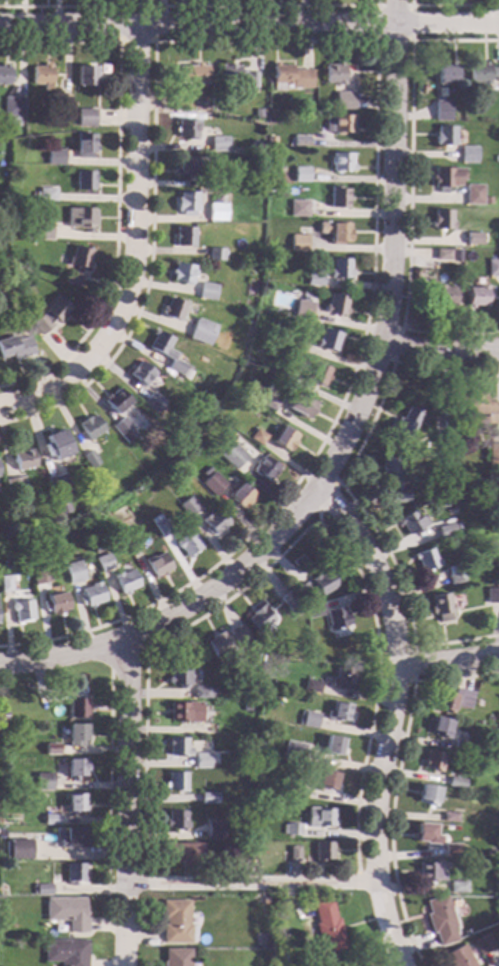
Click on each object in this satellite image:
road: (451, 4)
road: (189, 5)
road: (249, 23)
road: (409, 40)
road: (134, 41)
building: (482, 72)
building: (4, 73)
building: (190, 73)
building: (333, 73)
building: (445, 73)
building: (85, 75)
building: (236, 75)
building: (41, 76)
building: (288, 77)
building: (180, 100)
building: (344, 100)
building: (62, 101)
road: (373, 104)
building: (12, 106)
building: (257, 112)
building: (272, 113)
building: (442, 113)
building: (86, 117)
building: (42, 121)
building: (339, 124)
building: (185, 129)
building: (444, 136)
building: (300, 140)
building: (218, 143)
building: (84, 144)
building: (256, 144)
building: (468, 154)
building: (55, 156)
building: (341, 162)
building: (185, 166)
building: (300, 174)
building: (446, 177)
building: (84, 180)
building: (211, 181)
road: (114, 182)
road: (408, 190)
building: (46, 193)
building: (34, 194)
building: (473, 194)
building: (338, 197)
building: (487, 200)
building: (186, 203)
building: (298, 208)
building: (216, 211)
building: (79, 217)
building: (441, 219)
building: (27, 230)
building: (41, 230)
building: (335, 231)
building: (183, 236)
building: (473, 238)
building: (298, 242)
road: (131, 246)
road: (389, 249)
building: (215, 254)
building: (442, 254)
building: (77, 264)
building: (492, 267)
building: (339, 269)
building: (182, 273)
building: (314, 277)
building: (425, 278)
building: (208, 290)
building: (443, 295)
building: (476, 296)
building: (336, 304)
building: (172, 308)
building: (303, 308)
building: (50, 315)
building: (202, 331)
building: (328, 339)
building: (282, 341)
building: (294, 344)
road: (395, 345)
building: (15, 347)
building: (165, 351)
road: (439, 351)
building: (278, 369)
building: (141, 374)
building: (317, 374)
building: (251, 398)
building: (116, 401)
building: (152, 402)
building: (268, 403)
building: (300, 405)
building: (476, 407)
building: (447, 421)
building: (89, 426)
building: (404, 426)
building: (122, 430)
building: (257, 435)
building: (284, 438)
building: (449, 438)
building: (56, 447)
building: (232, 454)
building: (493, 456)
building: (22, 458)
building: (89, 459)
building: (264, 468)
building: (394, 478)
building: (212, 483)
building: (14, 485)
building: (58, 486)
road: (348, 493)
building: (240, 495)
road: (322, 500)
building: (188, 506)
building: (62, 509)
building: (214, 521)
building: (409, 522)
building: (159, 525)
building: (445, 529)
building: (129, 540)
building: (187, 543)
road: (290, 545)
building: (97, 548)
building: (425, 559)
building: (103, 562)
building: (157, 564)
building: (73, 572)
building: (40, 574)
building: (454, 574)
building: (125, 581)
building: (5, 583)
building: (496, 583)
building: (315, 586)
building: (91, 595)
building: (491, 595)
building: (288, 600)
building: (55, 603)
building: (441, 607)
building: (21, 610)
road: (179, 610)
building: (314, 611)
building: (336, 617)
building: (259, 618)
building: (219, 644)
road: (412, 645)
building: (249, 646)
road: (124, 654)
road: (447, 658)
building: (178, 677)
building: (342, 677)
building: (312, 686)
building: (203, 692)
building: (453, 700)
building: (77, 708)
building: (184, 712)
building: (339, 713)
road: (389, 717)
building: (308, 719)
building: (440, 727)
building: (208, 728)
building: (75, 734)
building: (333, 745)
building: (461, 746)
building: (2, 747)
building: (178, 747)
building: (52, 748)
building: (294, 750)
building: (494, 754)
building: (202, 760)
building: (433, 760)
building: (74, 768)
building: (326, 780)
building: (44, 781)
road: (107, 781)
building: (176, 781)
road: (394, 781)
building: (455, 782)
building: (295, 789)
building: (426, 795)
building: (208, 797)
road: (123, 801)
building: (74, 803)
building: (51, 816)
building: (319, 817)
building: (449, 817)
building: (176, 820)
building: (214, 829)
building: (292, 829)
building: (425, 834)
building: (72, 838)
building: (20, 849)
building: (322, 850)
building: (182, 852)
building: (242, 852)
building: (451, 852)
building: (293, 854)
building: (428, 872)
building: (74, 873)
road: (249, 882)
building: (456, 887)
building: (44, 889)
road: (87, 889)
building: (263, 900)
building: (67, 912)
building: (439, 920)
building: (176, 922)
building: (326, 927)
building: (482, 944)
building: (66, 952)
building: (176, 957)
building: (457, 957)

